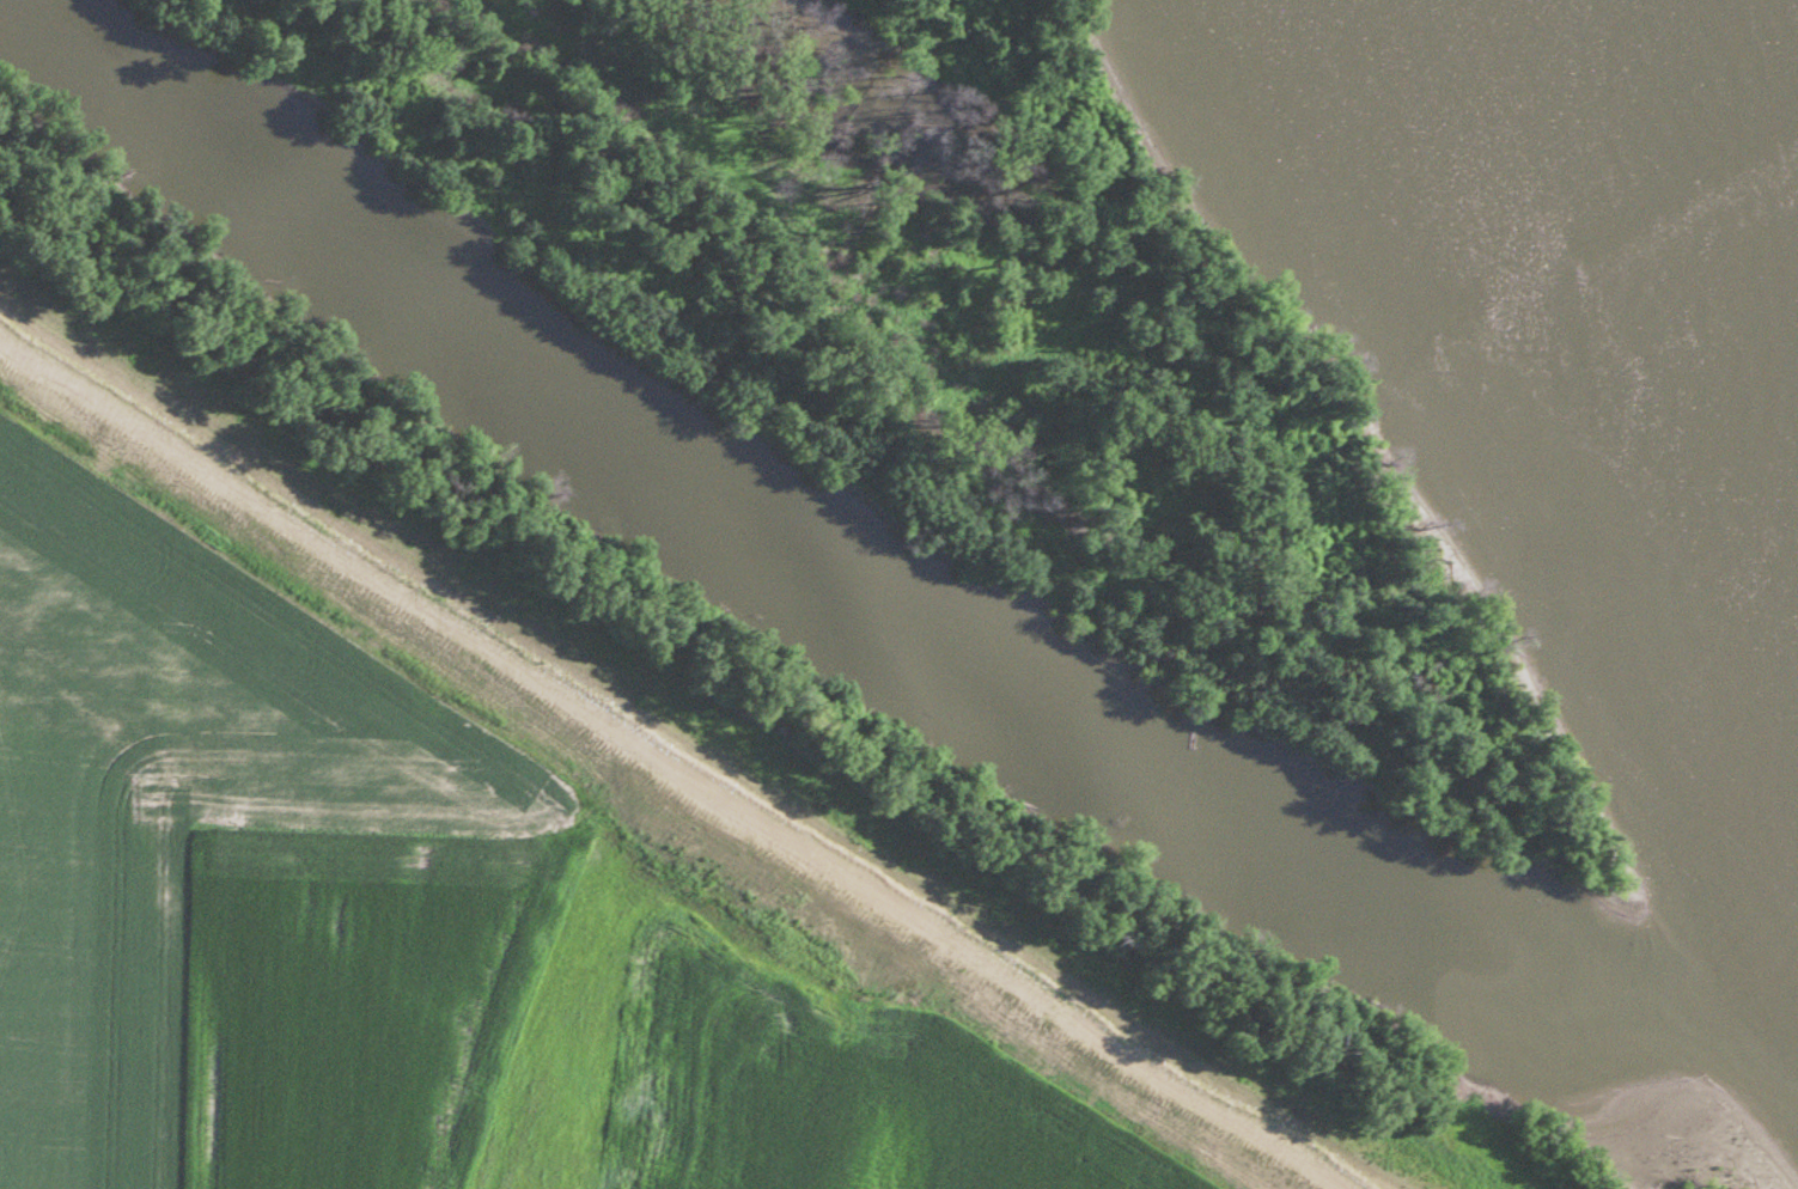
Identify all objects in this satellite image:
road: (681, 762)
crop: (404, 937)

